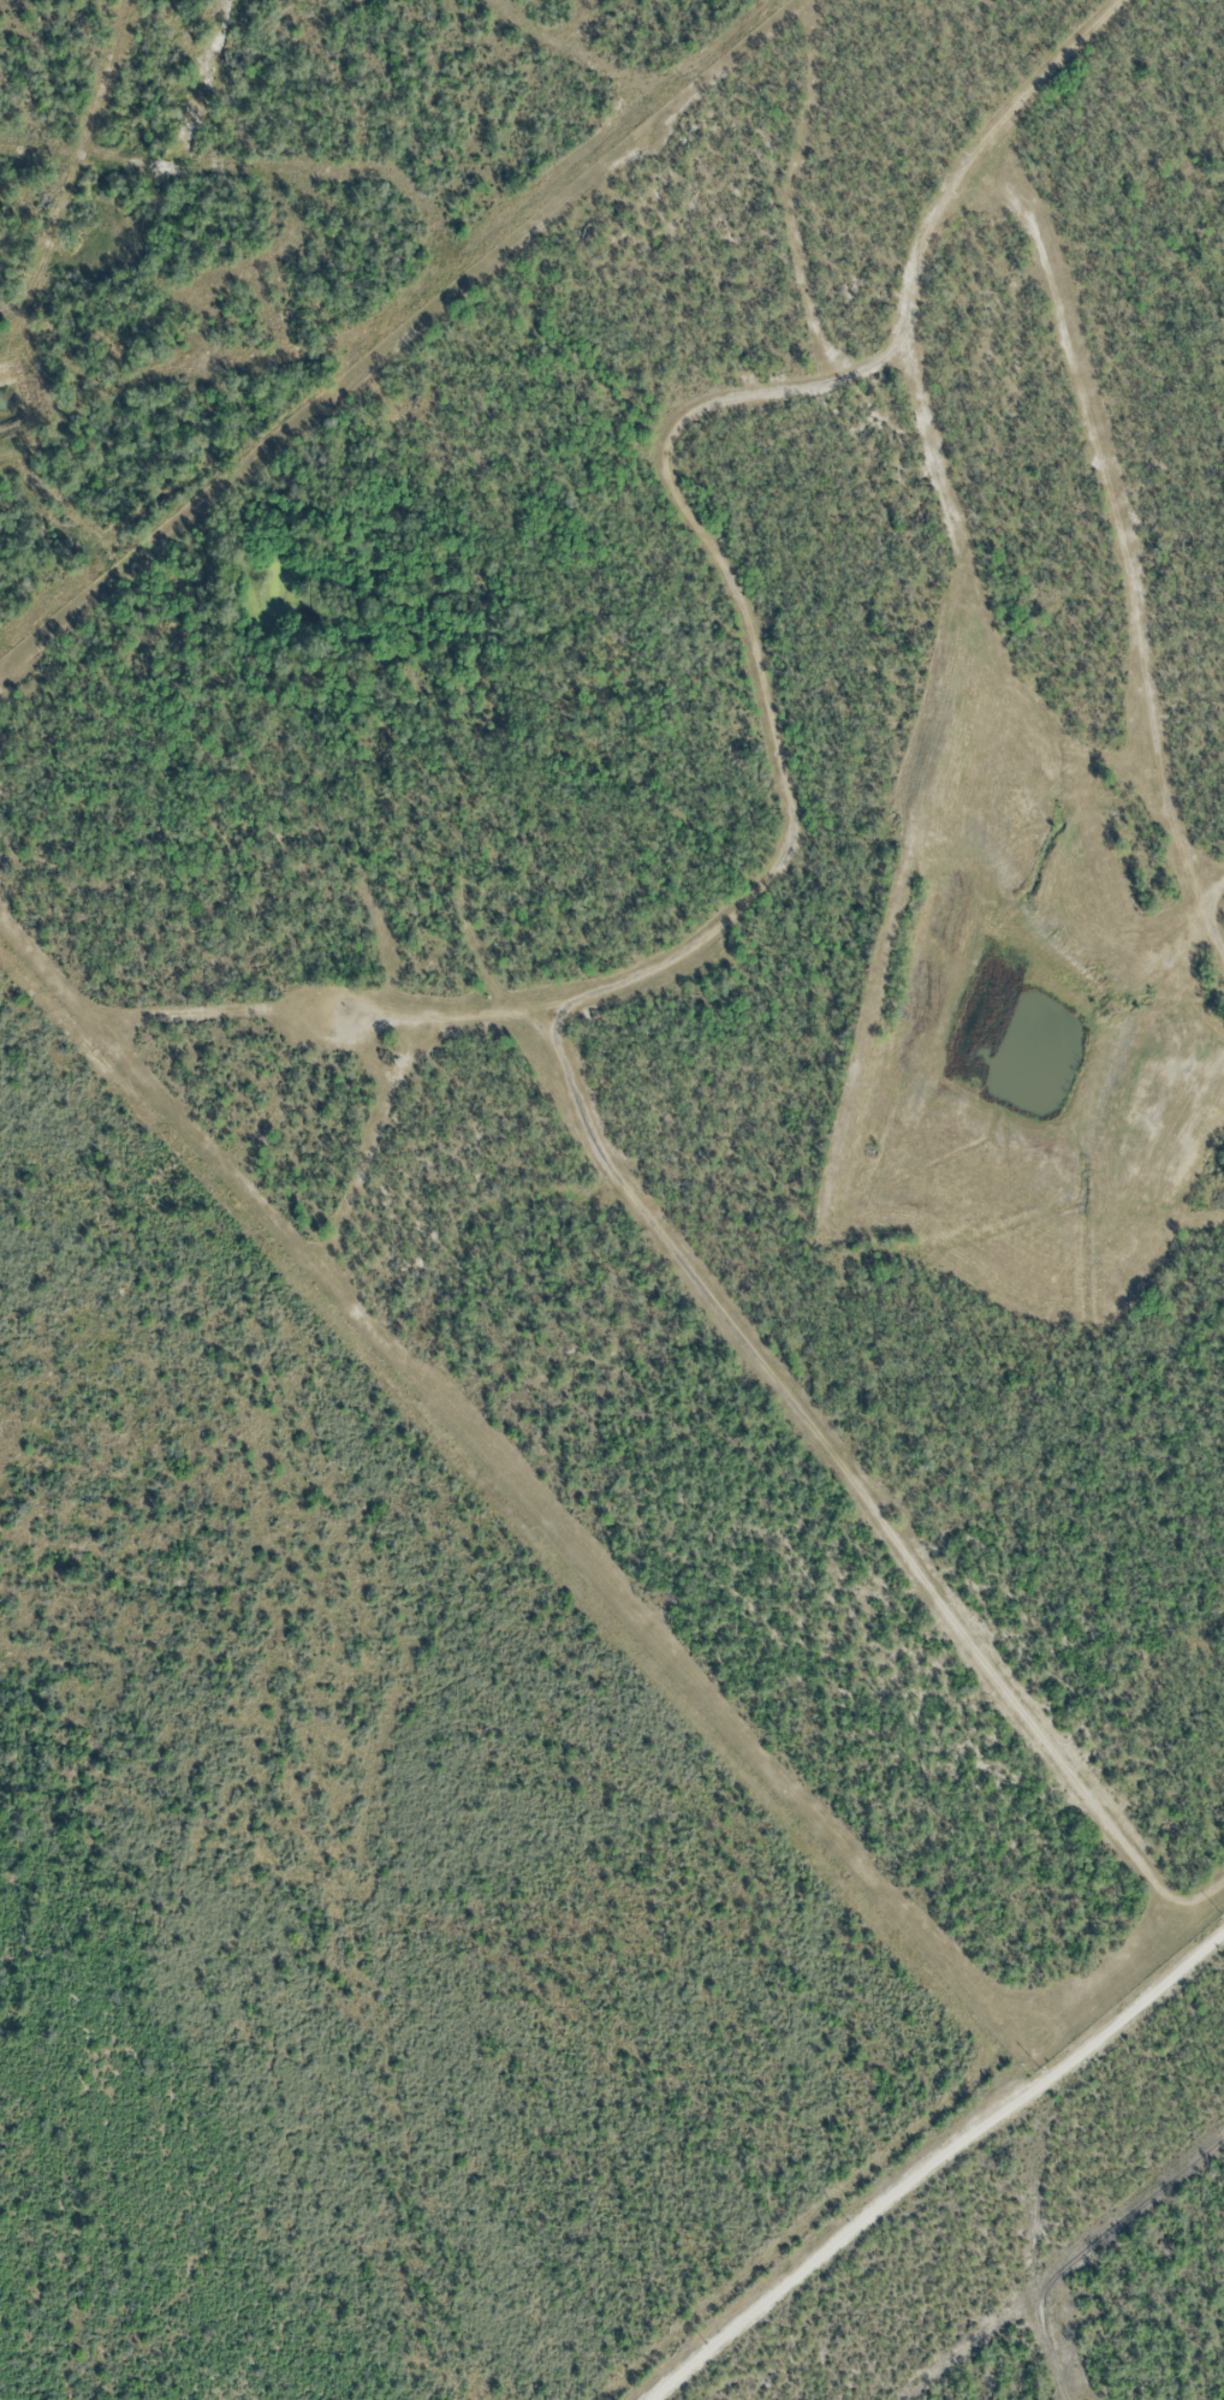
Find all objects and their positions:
road: (938, 2157)

